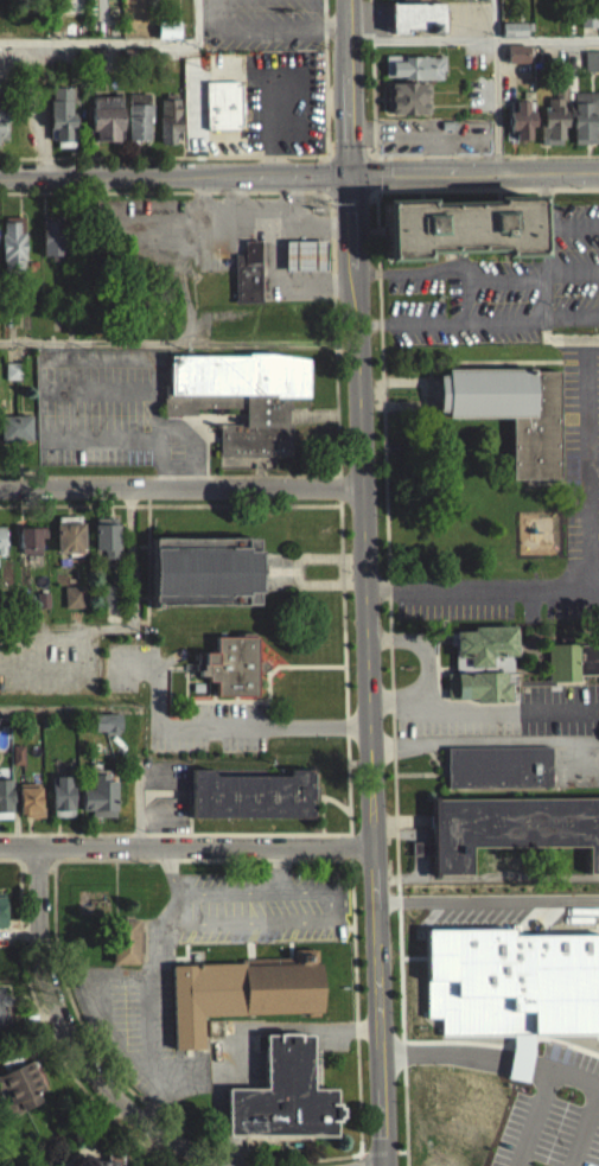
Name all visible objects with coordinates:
building: (407, 4)
building: (414, 26)
road: (273, 27)
road: (473, 39)
building: (511, 39)
road: (120, 42)
building: (166, 42)
building: (516, 51)
building: (591, 59)
building: (516, 63)
road: (571, 63)
building: (414, 64)
building: (591, 70)
building: (412, 76)
road: (193, 83)
road: (497, 85)
road: (349, 87)
building: (407, 95)
road: (374, 97)
road: (278, 100)
road: (183, 101)
building: (223, 103)
building: (553, 113)
building: (584, 114)
building: (63, 115)
building: (106, 115)
building: (139, 115)
building: (520, 115)
building: (4, 117)
building: (170, 117)
road: (441, 136)
road: (425, 154)
road: (439, 154)
road: (549, 154)
road: (176, 157)
road: (177, 171)
road: (385, 171)
road: (476, 172)
road: (319, 173)
traffic signals: (353, 173)
road: (573, 185)
road: (146, 191)
road: (314, 191)
road: (236, 196)
road: (292, 197)
building: (460, 216)
road: (234, 219)
road: (573, 223)
road: (276, 244)
building: (51, 247)
building: (12, 253)
building: (305, 253)
building: (248, 269)
road: (419, 272)
road: (573, 272)
road: (280, 278)
road: (510, 279)
road: (547, 280)
road: (323, 283)
parking lot: (502, 288)
road: (466, 299)
road: (381, 304)
road: (478, 319)
road: (152, 343)
road: (497, 359)
road: (95, 361)
road: (151, 365)
building: (14, 370)
building: (12, 380)
road: (115, 387)
road: (65, 390)
road: (428, 391)
building: (243, 401)
parking lot: (93, 406)
building: (510, 407)
road: (62, 412)
building: (15, 426)
road: (588, 429)
road: (158, 431)
road: (65, 433)
road: (116, 438)
road: (191, 444)
parking lot: (581, 454)
road: (594, 464)
road: (168, 476)
road: (181, 489)
road: (340, 499)
road: (170, 504)
building: (31, 536)
building: (106, 536)
building: (70, 537)
building: (2, 540)
road: (591, 548)
road: (148, 555)
building: (204, 568)
road: (298, 571)
road: (133, 576)
road: (586, 582)
road: (472, 587)
building: (72, 606)
building: (106, 606)
road: (420, 648)
road: (369, 669)
building: (571, 670)
building: (482, 674)
building: (230, 675)
road: (32, 709)
road: (478, 709)
building: (106, 733)
road: (478, 740)
building: (15, 764)
building: (497, 776)
building: (251, 804)
building: (60, 807)
building: (98, 807)
building: (5, 808)
building: (28, 811)
building: (509, 837)
road: (186, 843)
building: (415, 858)
road: (566, 897)
road: (477, 899)
road: (399, 900)
building: (85, 915)
building: (1, 920)
building: (123, 950)
building: (512, 983)
building: (238, 1002)
building: (2, 1017)
road: (68, 1034)
road: (282, 1038)
road: (491, 1055)
building: (18, 1097)
building: (281, 1104)
parking lot: (555, 1113)
road: (533, 1117)
road: (234, 1120)
road: (585, 1128)
road: (235, 1154)
building: (111, 1164)

